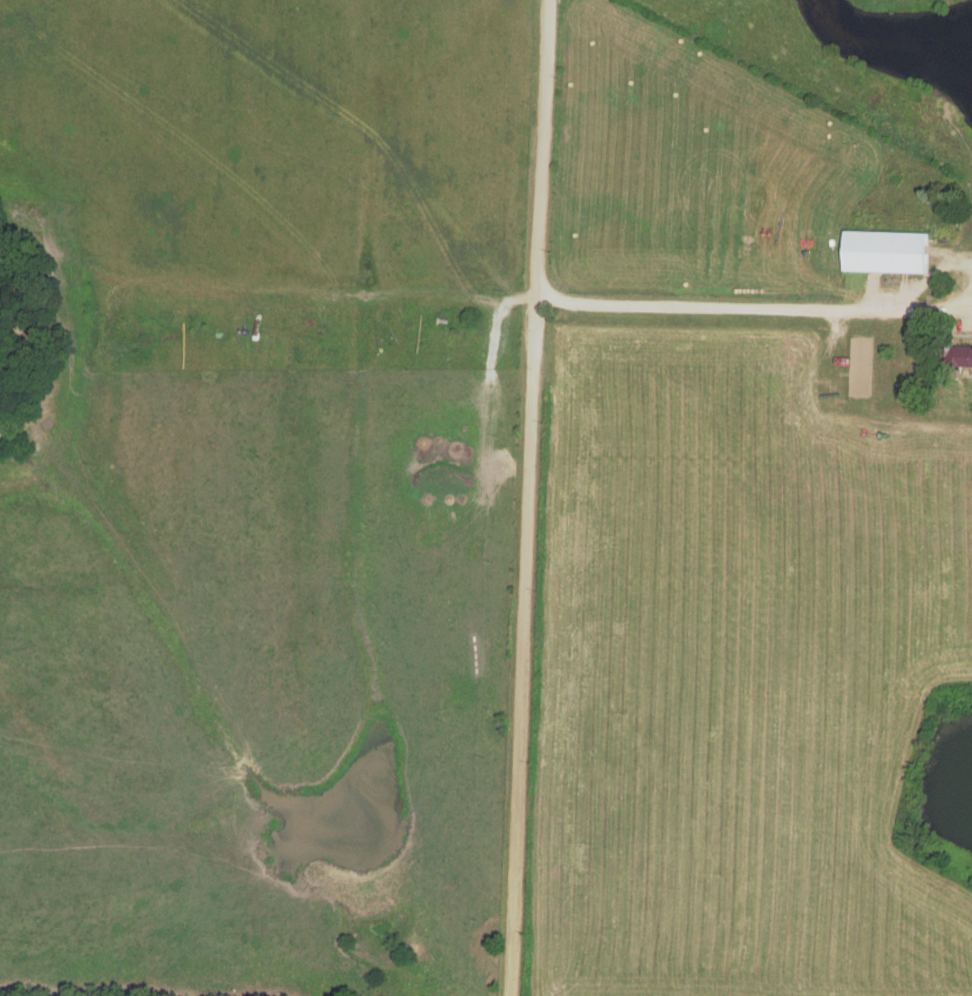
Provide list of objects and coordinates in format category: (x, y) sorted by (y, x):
building: (888, 252)
road: (767, 309)
building: (961, 357)
road: (530, 498)

